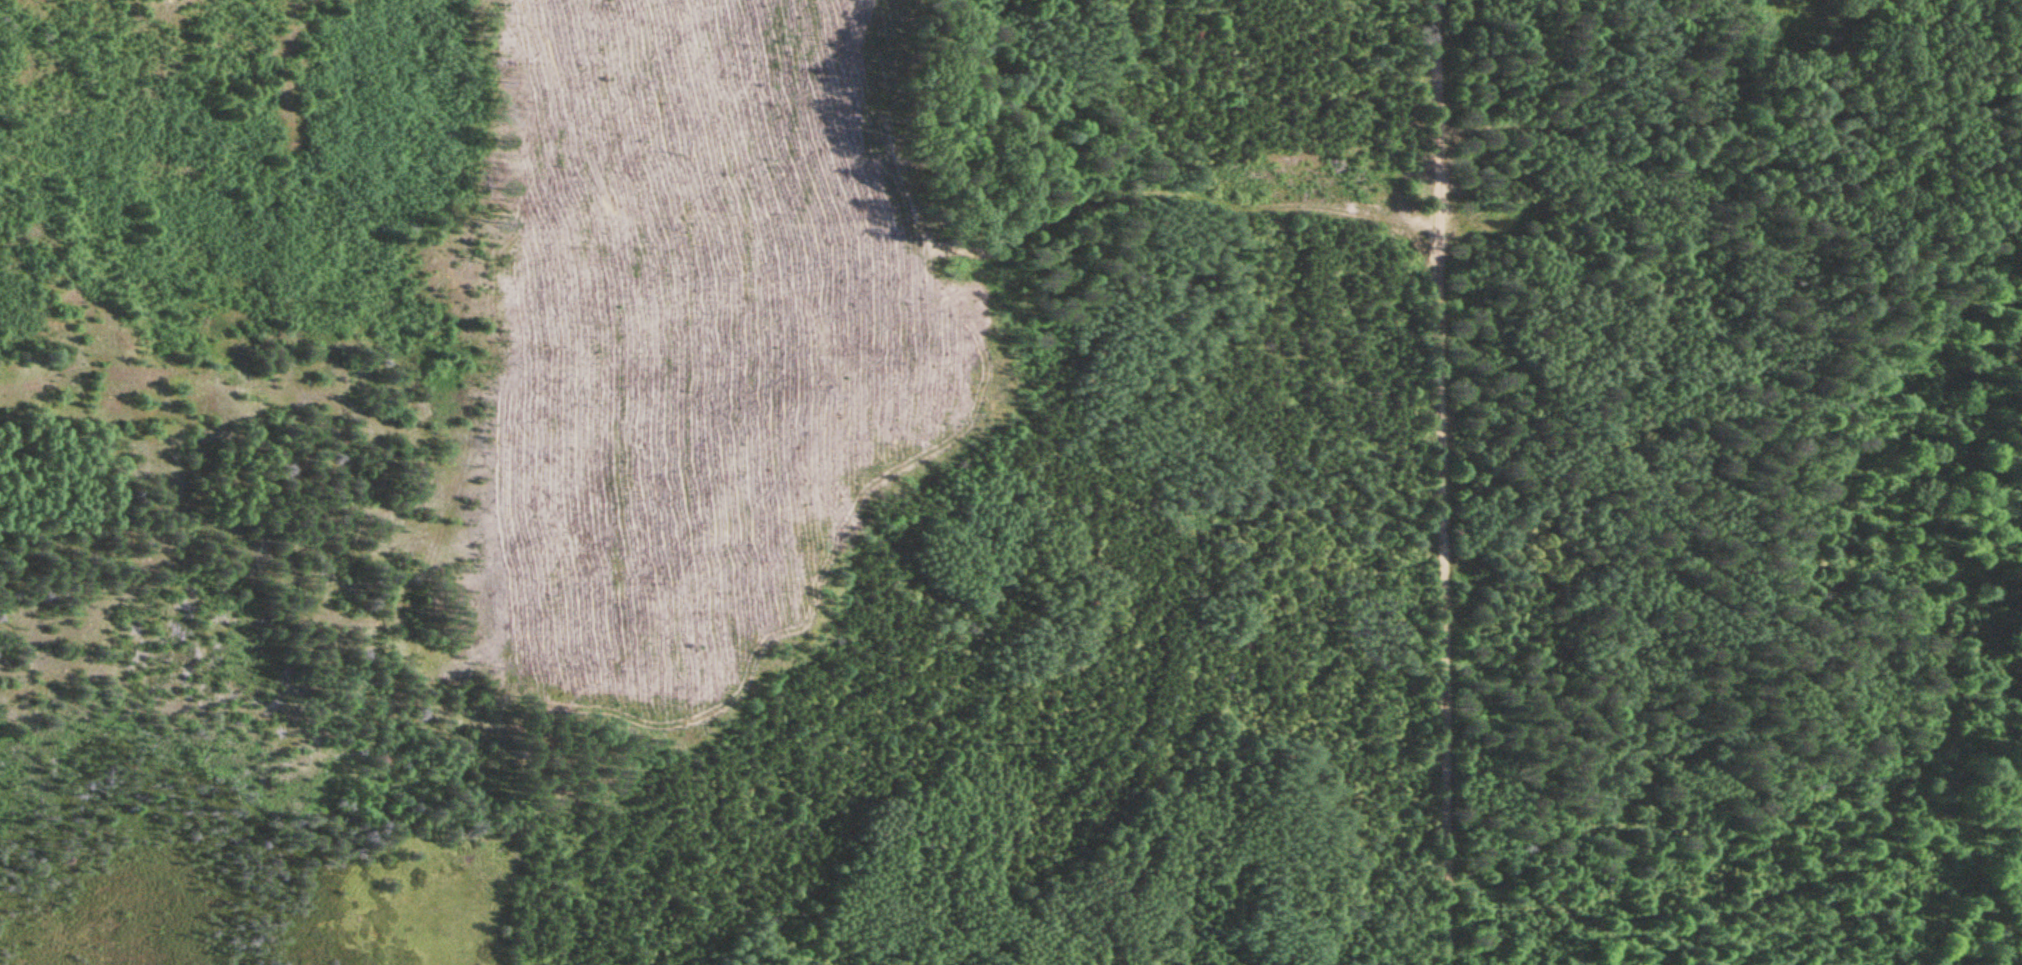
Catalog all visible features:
road: (1733, 126)
road: (1445, 482)

